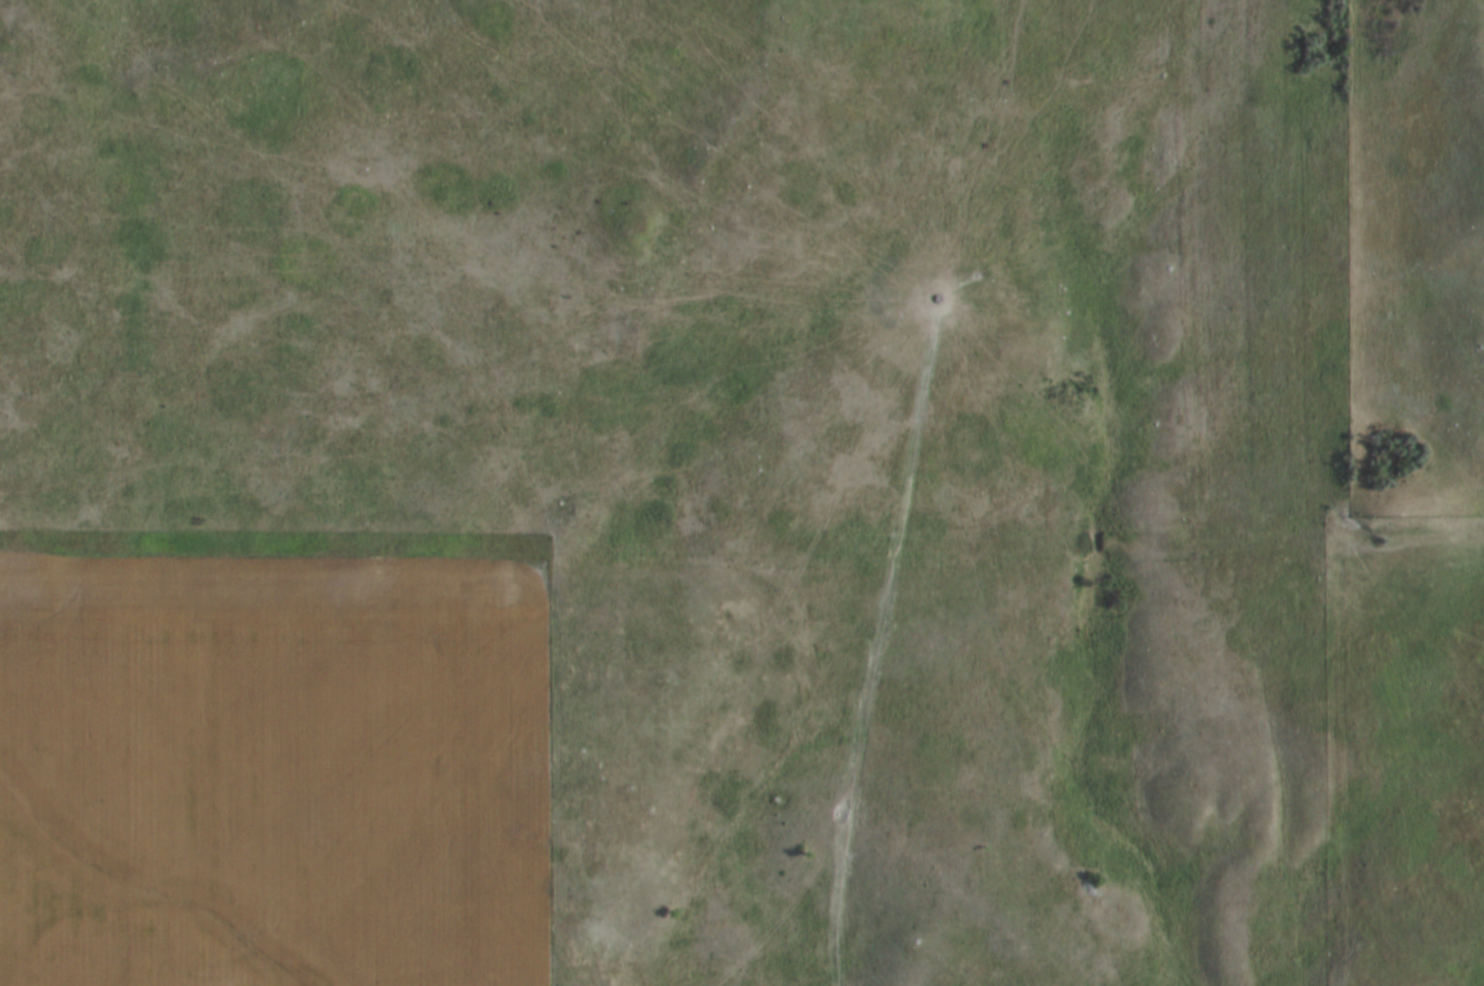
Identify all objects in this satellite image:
road: (1356, 496)

